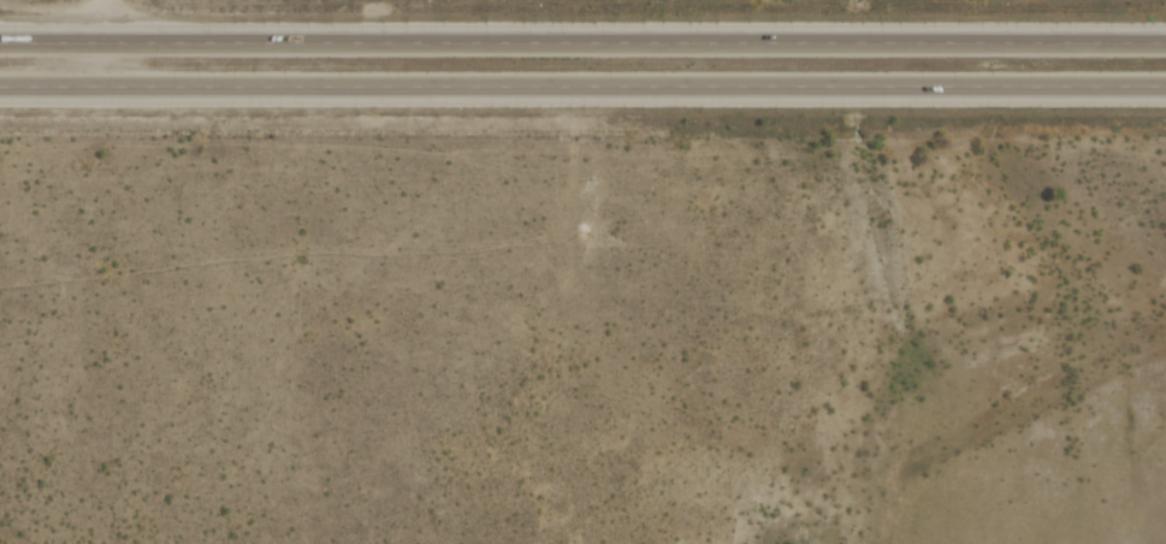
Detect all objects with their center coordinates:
road: (106, 45)
road: (582, 46)
road: (582, 90)

